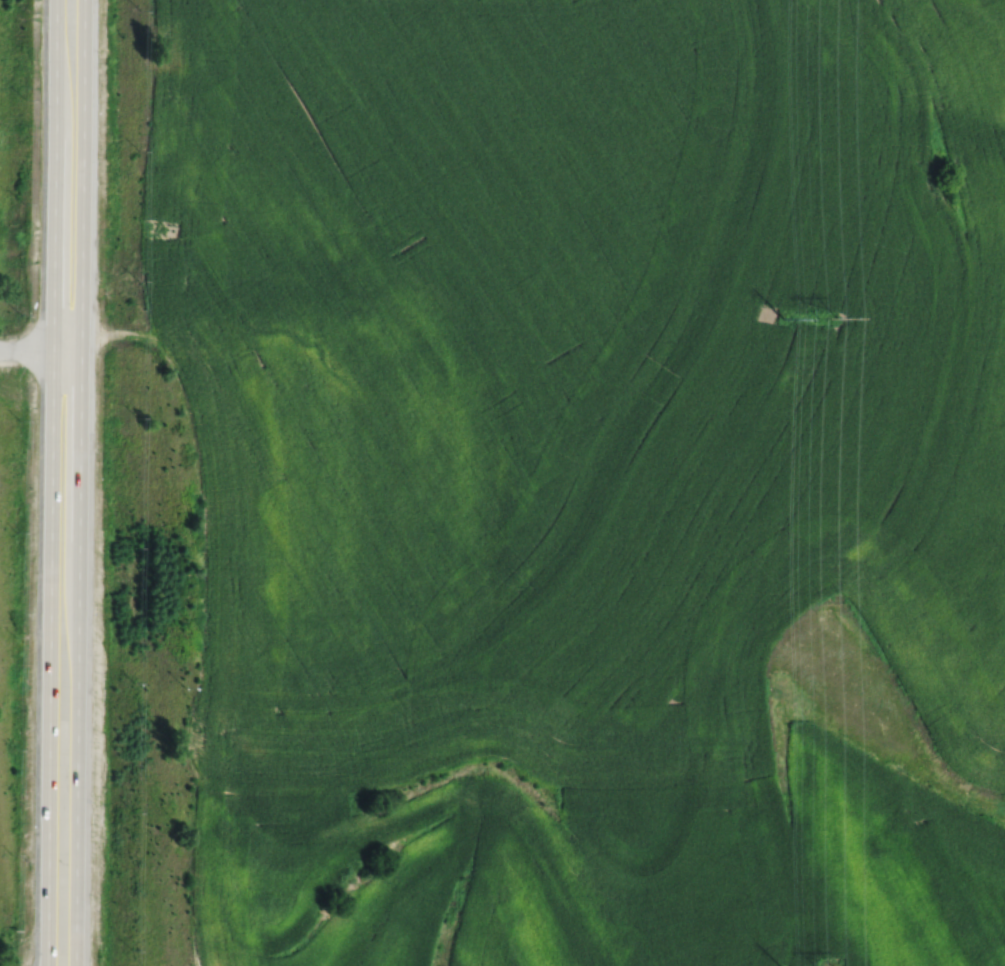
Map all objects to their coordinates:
power tower: (784, 318)
power tower: (824, 319)
road: (40, 350)
crop: (588, 476)
road: (51, 482)
road: (79, 483)

